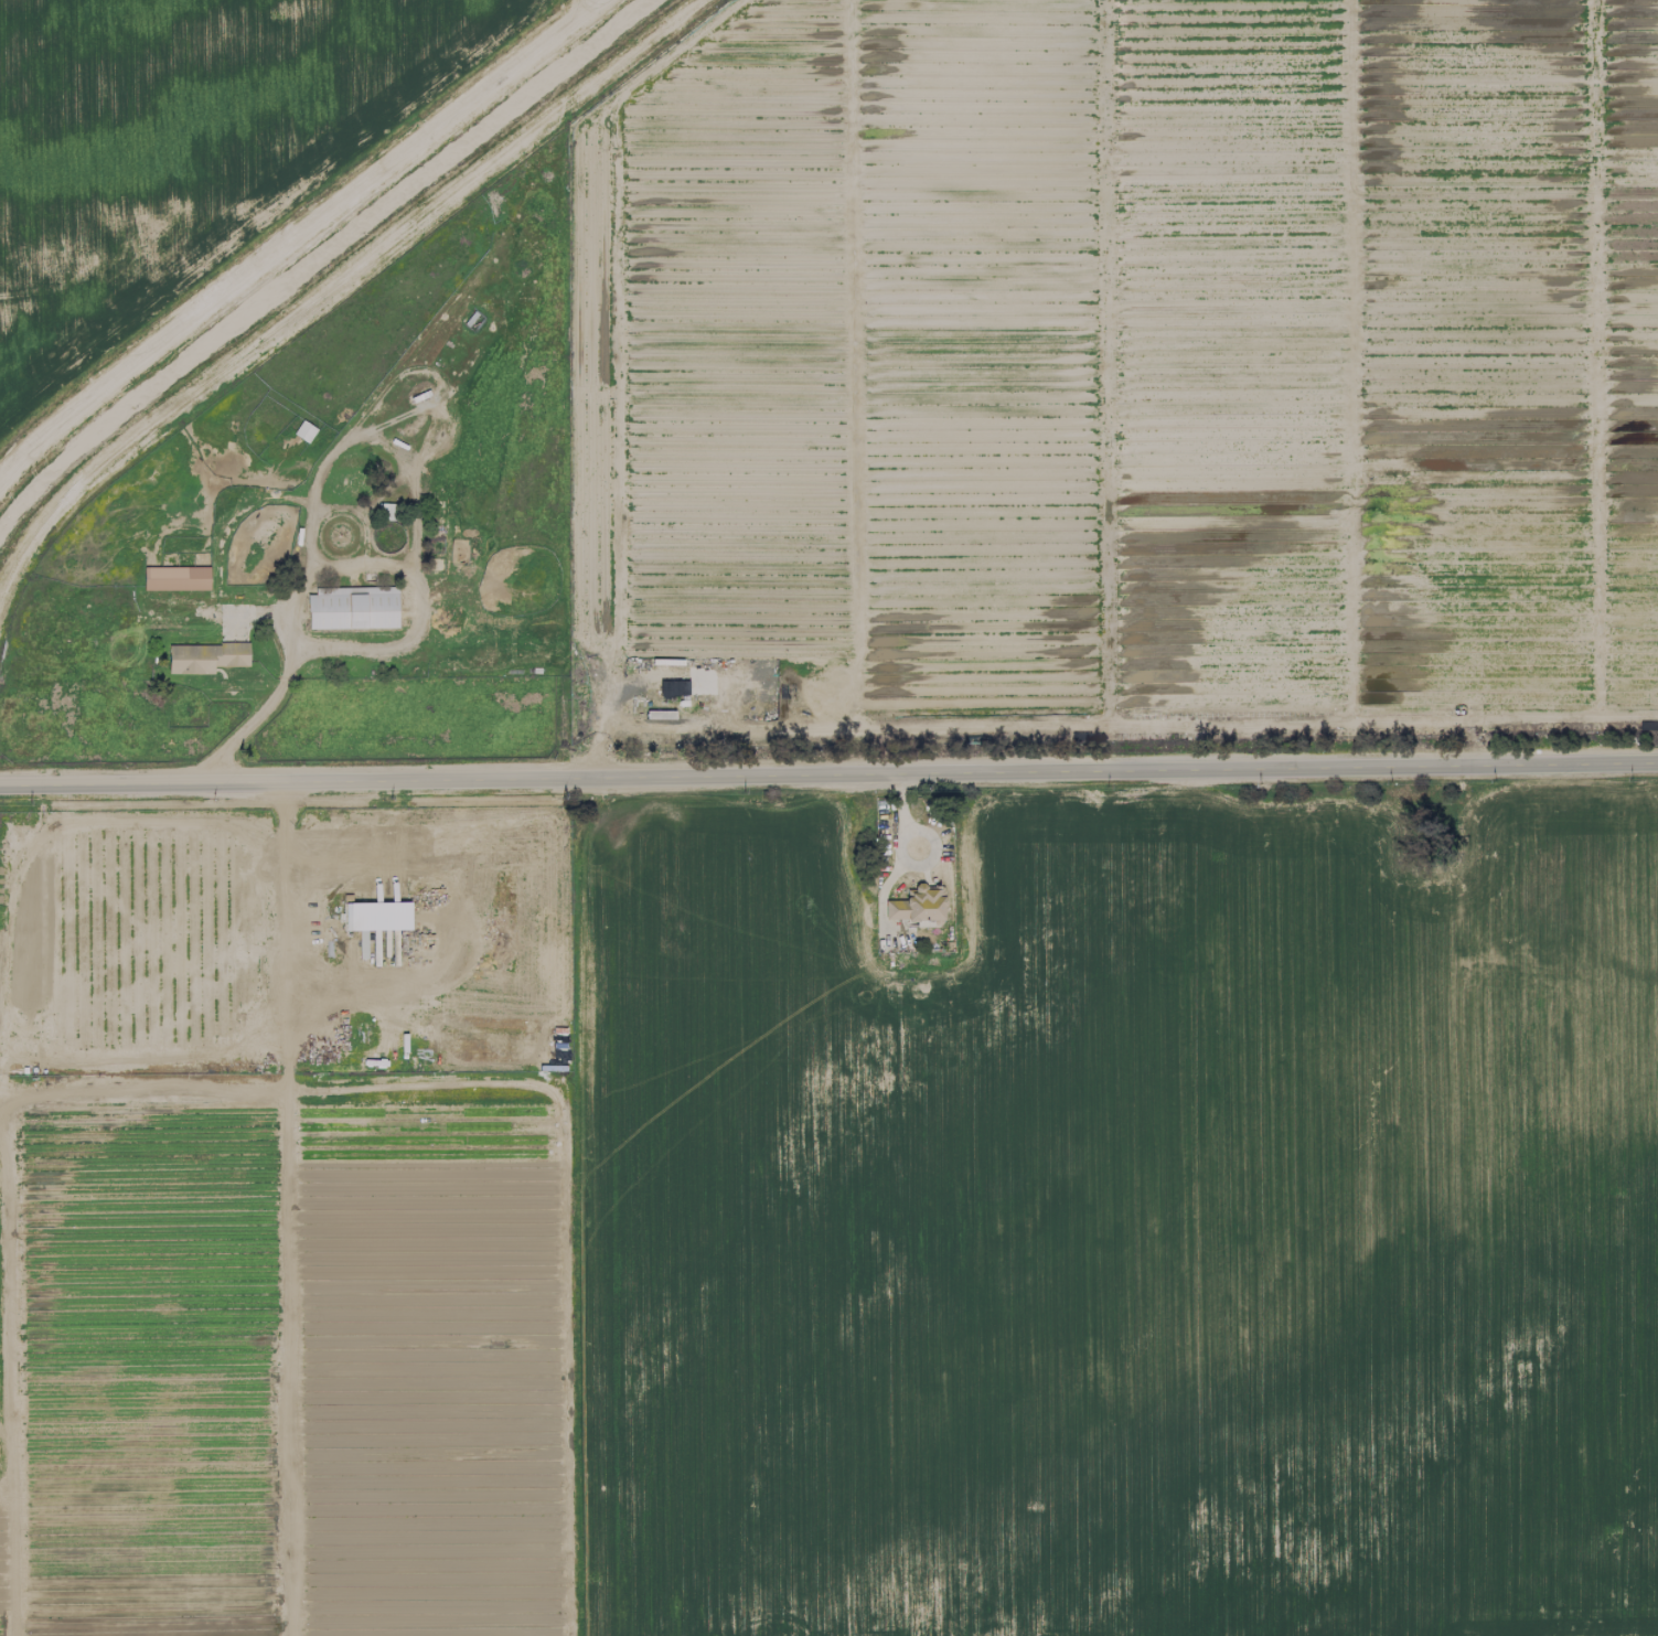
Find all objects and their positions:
building: (304, 431)
building: (175, 578)
building: (352, 609)
road: (398, 637)
building: (205, 657)
building: (655, 715)
road: (828, 773)
road: (901, 859)
building: (917, 905)
building: (379, 916)

